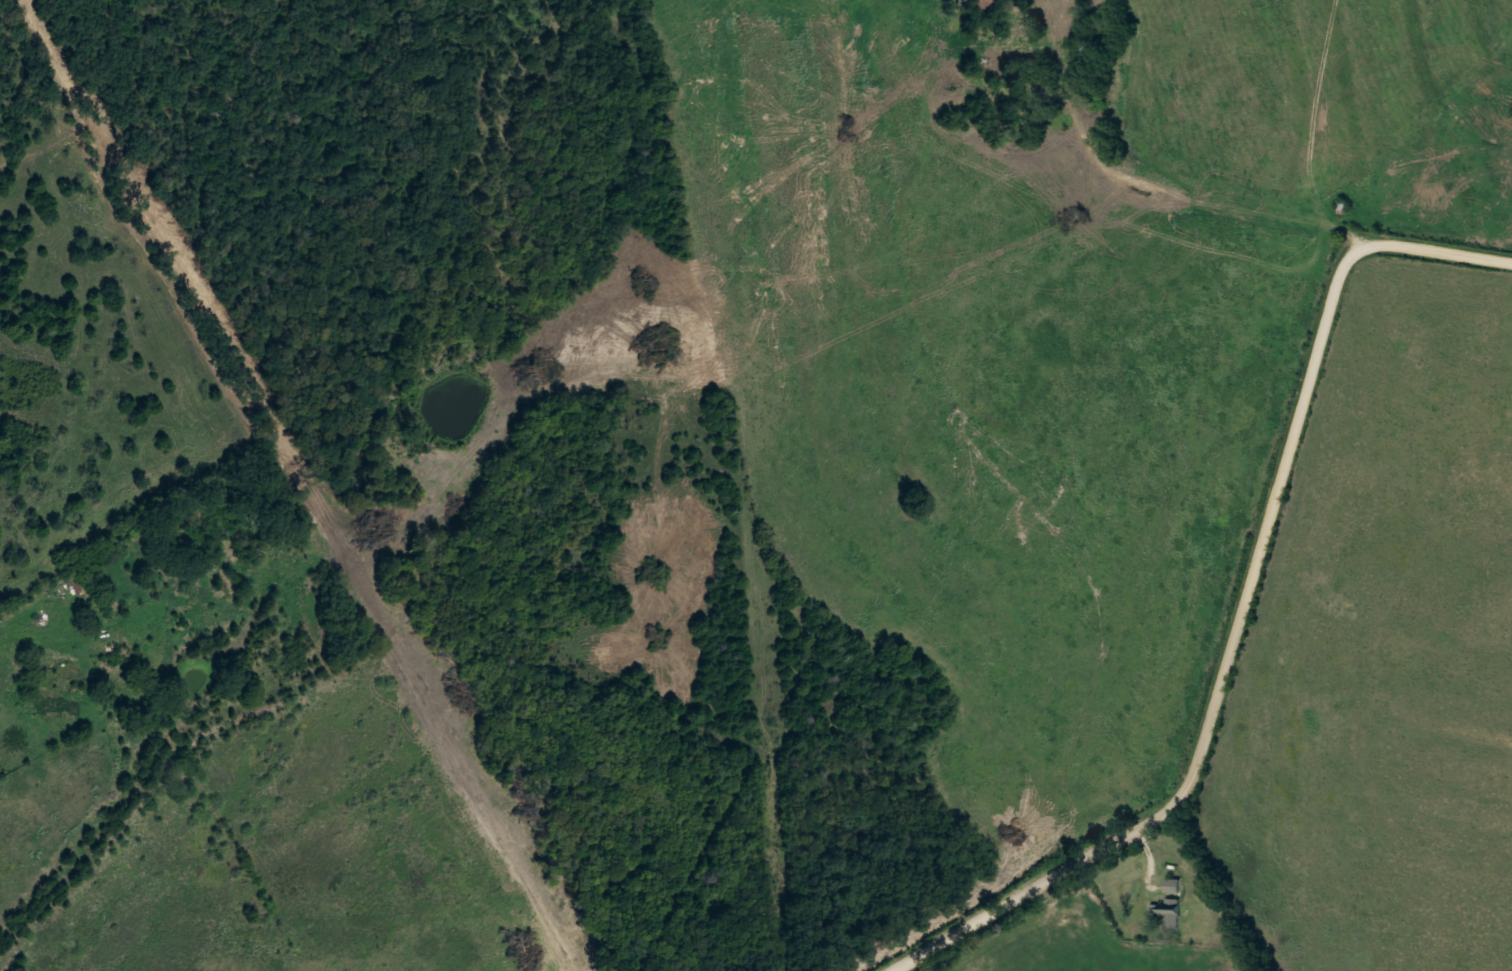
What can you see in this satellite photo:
building: (984, 5)
building: (1090, 53)
building: (1342, 208)
road: (1244, 609)
building: (1173, 885)
building: (1168, 919)

